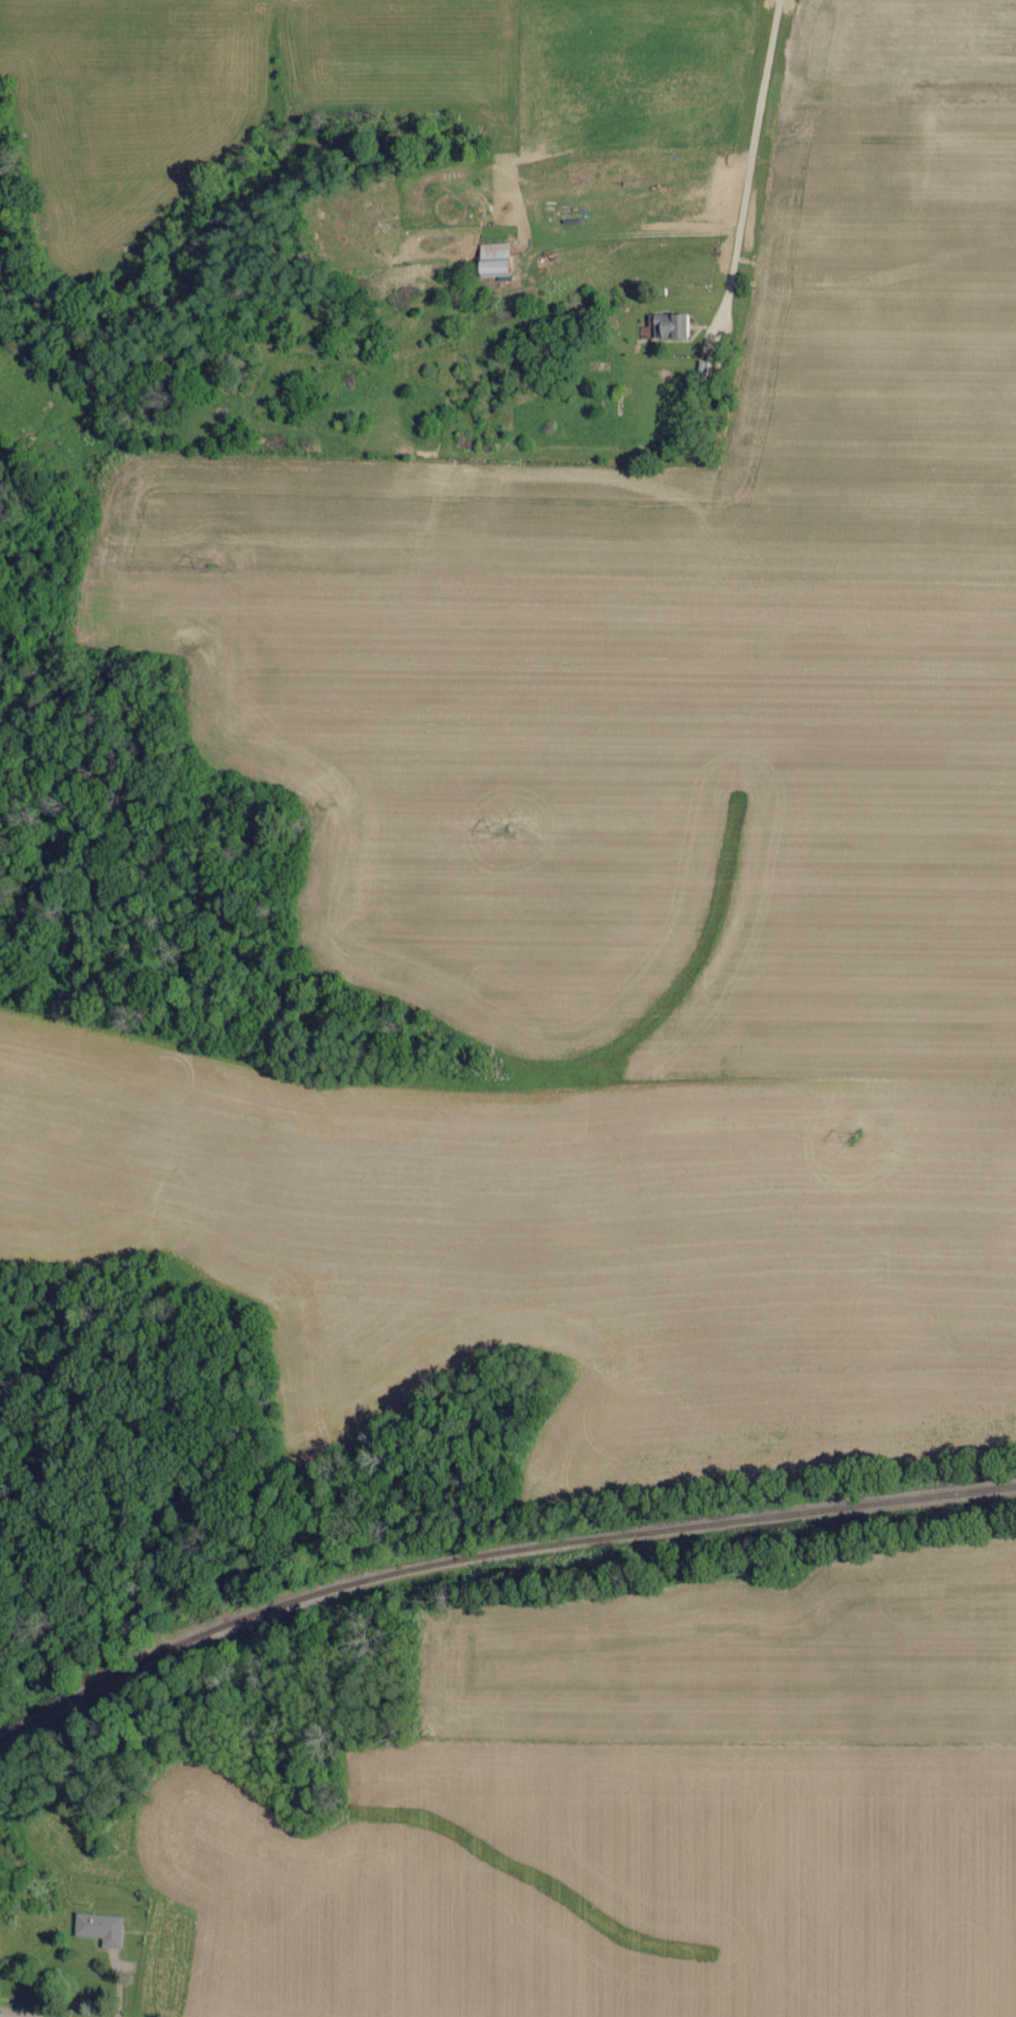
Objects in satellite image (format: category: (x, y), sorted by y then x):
road: (749, 172)
building: (492, 260)
building: (673, 326)
power tower: (859, 1134)
railway: (490, 1552)
building: (99, 1928)
road: (17, 2013)

